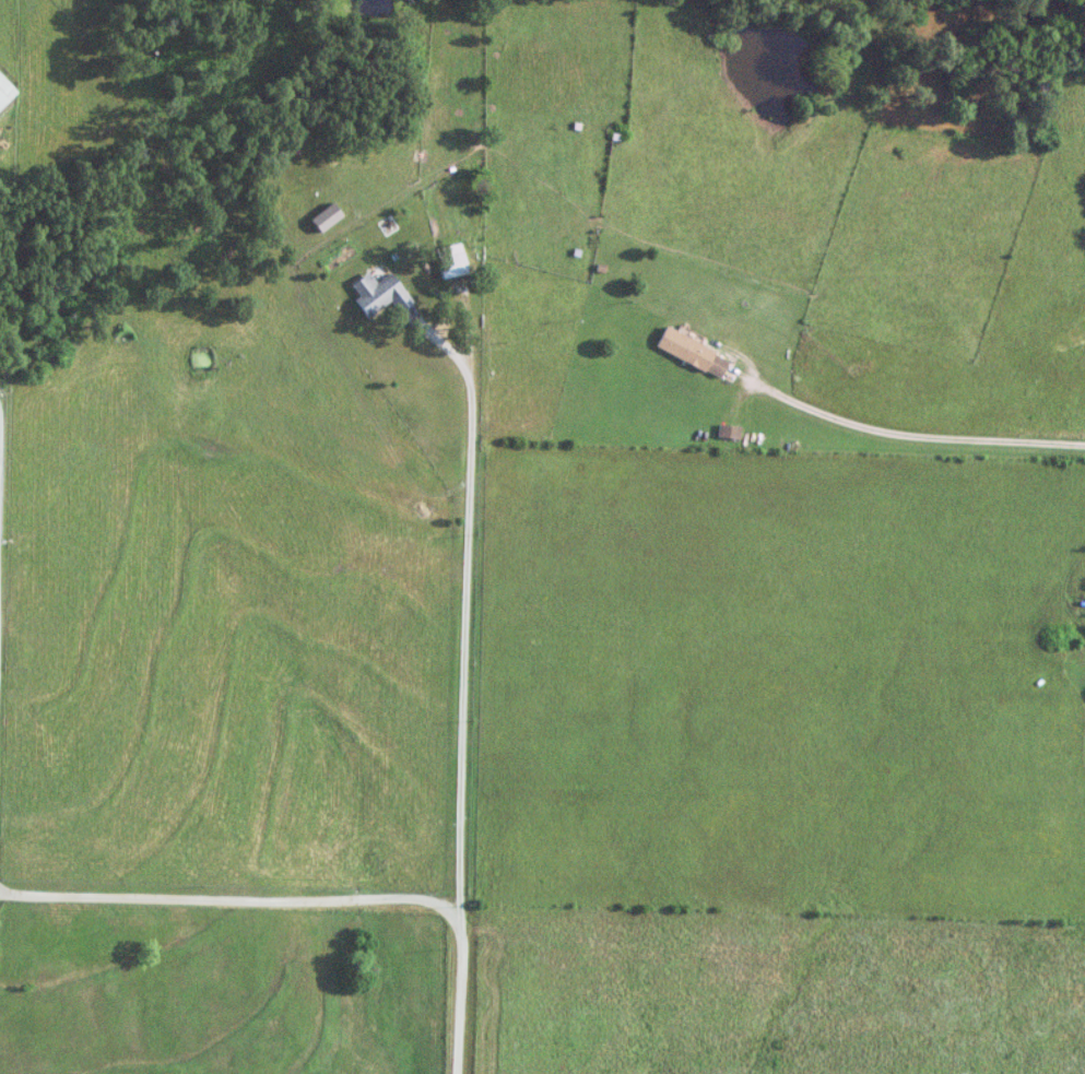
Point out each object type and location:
building: (7, 92)
building: (456, 260)
building: (379, 293)
building: (697, 352)
road: (903, 433)
road: (1, 493)
road: (468, 615)
road: (310, 898)

